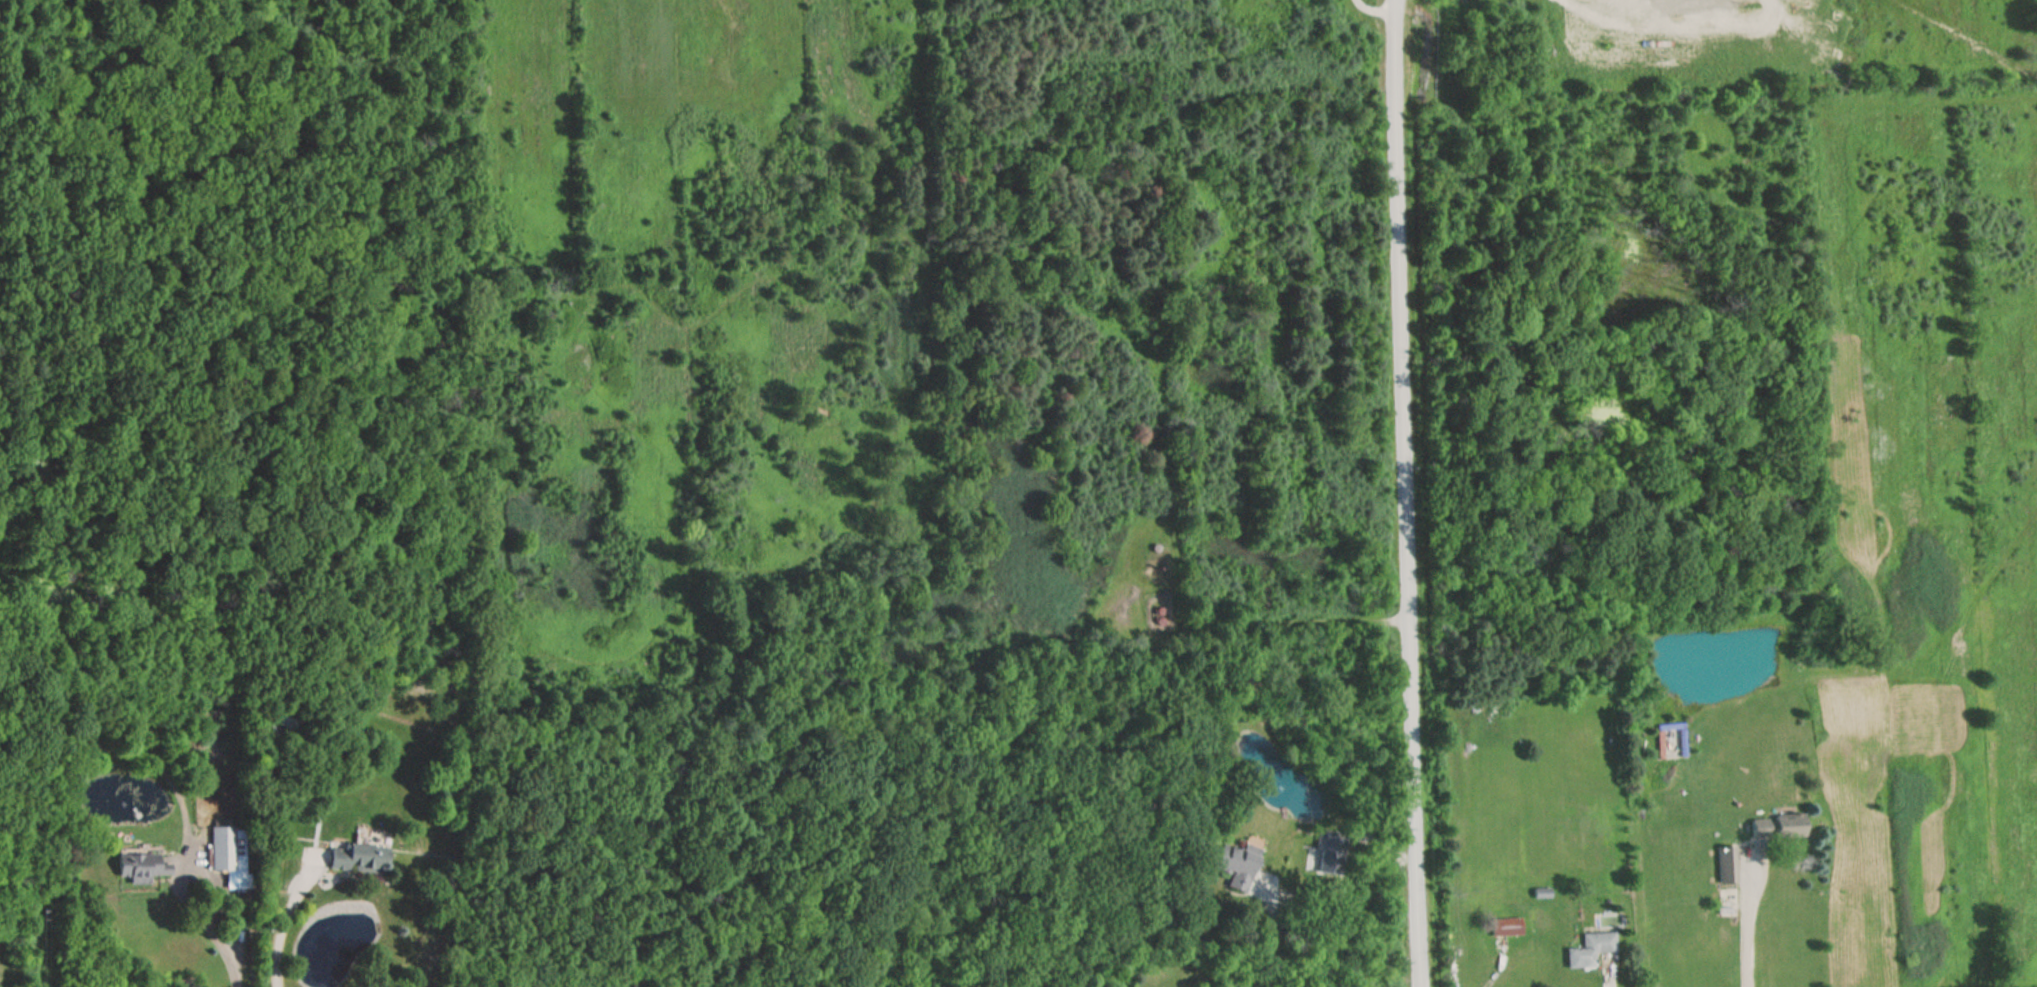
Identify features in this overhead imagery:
road: (1402, 493)
building: (279, 735)
road: (1882, 804)
building: (222, 848)
building: (359, 858)
building: (1236, 864)
road: (187, 866)
building: (141, 868)
road: (283, 920)
road: (1746, 925)
building: (1505, 927)
road: (1269, 932)
building: (1590, 950)
road: (224, 956)
road: (1489, 968)

